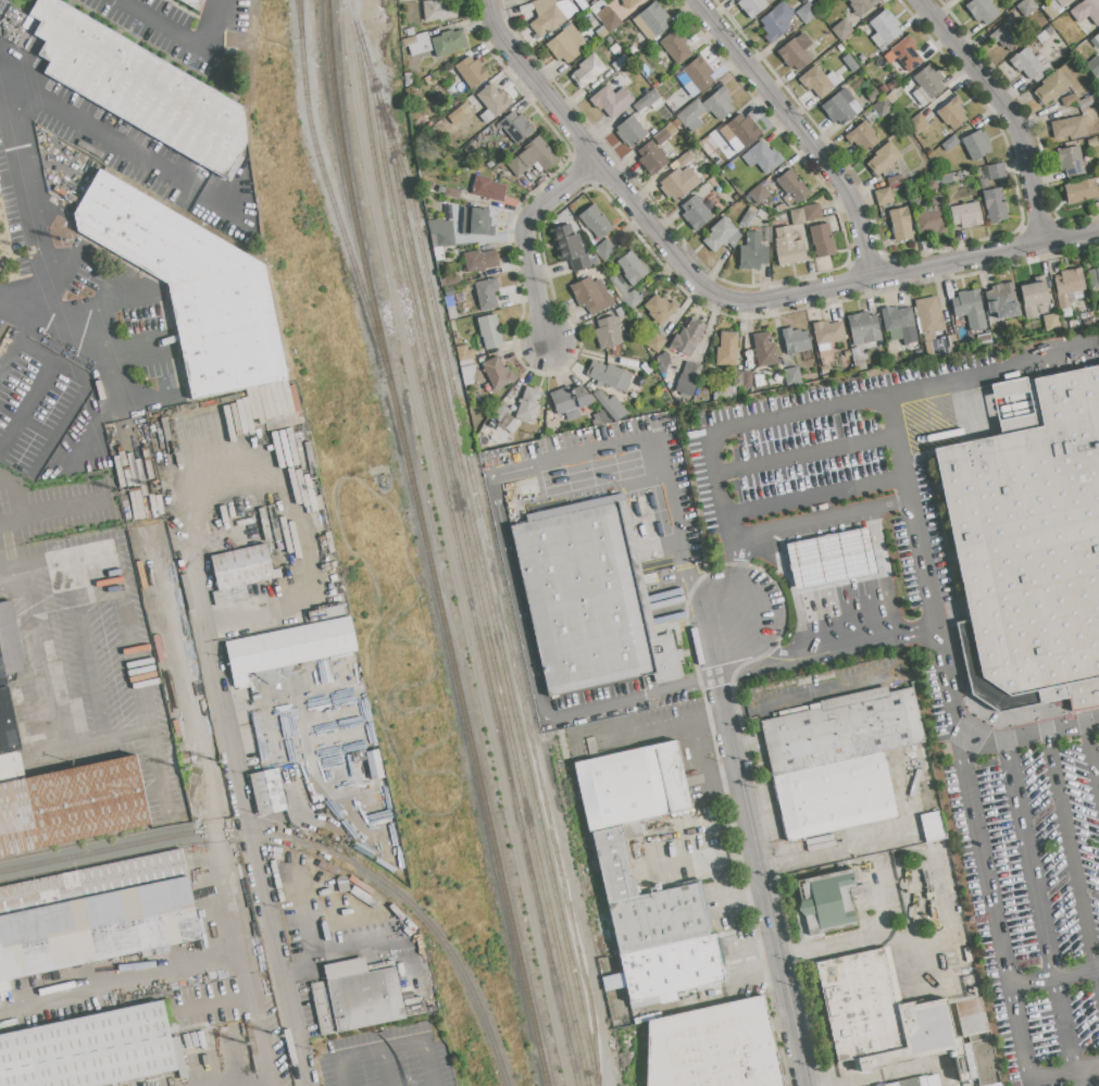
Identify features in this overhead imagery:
building: (546, 1)
building: (559, 1)
building: (1063, 1)
road: (484, 2)
building: (193, 3)
building: (628, 3)
building: (862, 5)
building: (751, 7)
building: (526, 8)
building: (1026, 8)
railway: (297, 9)
building: (439, 10)
building: (982, 11)
building: (1086, 11)
building: (807, 13)
building: (552, 17)
building: (653, 17)
building: (776, 21)
building: (610, 22)
road: (213, 25)
building: (885, 25)
road: (165, 28)
building: (842, 29)
building: (601, 34)
building: (1009, 35)
building: (421, 37)
building: (1097, 39)
building: (409, 41)
building: (448, 42)
building: (422, 45)
building: (564, 45)
building: (675, 47)
building: (795, 52)
building: (906, 52)
building: (620, 63)
building: (850, 63)
building: (1026, 63)
building: (1094, 65)
building: (471, 71)
building: (587, 71)
building: (698, 73)
building: (929, 80)
building: (814, 82)
building: (139, 87)
building: (1050, 87)
building: (890, 97)
building: (611, 100)
building: (1069, 100)
building: (494, 101)
building: (648, 101)
building: (719, 102)
building: (1084, 102)
building: (465, 108)
building: (883, 108)
building: (838, 109)
road: (1009, 110)
building: (952, 113)
building: (691, 114)
building: (916, 124)
road: (86, 125)
building: (515, 126)
building: (1069, 127)
building: (744, 129)
building: (629, 130)
road: (801, 132)
building: (662, 136)
building: (861, 136)
building: (949, 142)
building: (1091, 142)
building: (976, 145)
building: (709, 146)
building: (697, 151)
building: (534, 157)
building: (651, 158)
building: (762, 158)
building: (883, 158)
building: (685, 159)
building: (1070, 160)
building: (688, 167)
building: (996, 171)
building: (946, 178)
building: (895, 180)
railway: (325, 182)
road: (30, 184)
building: (932, 184)
building: (674, 186)
building: (791, 186)
building: (1098, 186)
building: (487, 188)
building: (1081, 190)
building: (452, 194)
building: (758, 194)
building: (884, 196)
building: (995, 204)
building: (1097, 207)
building: (812, 212)
building: (695, 213)
building: (965, 215)
building: (797, 216)
building: (933, 216)
building: (746, 219)
building: (476, 222)
building: (595, 222)
building: (899, 225)
building: (441, 233)
building: (721, 235)
road: (523, 237)
building: (821, 239)
power tower: (65, 241)
building: (573, 247)
building: (788, 247)
building: (603, 250)
power tower: (32, 252)
building: (752, 252)
building: (438, 253)
building: (479, 260)
building: (595, 260)
building: (630, 267)
building: (1092, 278)
building: (451, 279)
building: (191, 285)
building: (1067, 286)
building: (448, 292)
building: (487, 294)
building: (624, 294)
building: (591, 295)
building: (1033, 296)
road: (723, 299)
building: (1002, 300)
road: (109, 303)
building: (450, 308)
building: (660, 308)
building: (970, 309)
road: (38, 311)
building: (620, 312)
building: (929, 315)
building: (1050, 322)
building: (899, 323)
building: (863, 328)
building: (489, 330)
building: (607, 333)
building: (827, 334)
building: (687, 337)
road: (77, 340)
building: (795, 340)
road: (136, 341)
building: (655, 342)
building: (948, 344)
building: (727, 348)
building: (764, 349)
building: (463, 353)
road: (1050, 359)
building: (858, 360)
road: (50, 364)
building: (687, 369)
building: (466, 371)
building: (696, 371)
building: (497, 372)
building: (609, 376)
building: (791, 376)
building: (738, 378)
building: (747, 379)
building: (686, 385)
building: (1008, 390)
building: (287, 397)
building: (282, 399)
building: (294, 399)
road: (150, 400)
building: (276, 400)
building: (270, 401)
building: (570, 401)
road: (854, 401)
building: (257, 402)
building: (263, 402)
building: (251, 403)
building: (528, 404)
building: (610, 404)
road: (25, 408)
building: (246, 409)
building: (601, 417)
building: (235, 421)
building: (286, 421)
building: (227, 422)
building: (492, 422)
building: (221, 423)
building: (207, 425)
building: (511, 426)
road: (58, 428)
building: (497, 428)
road: (49, 429)
building: (172, 430)
building: (178, 430)
building: (185, 430)
building: (192, 430)
building: (159, 436)
road: (899, 447)
road: (807, 453)
road: (659, 458)
power tower: (157, 487)
power tower: (125, 491)
road: (815, 496)
road: (13, 497)
road: (885, 504)
road: (52, 512)
building: (289, 520)
road: (811, 521)
building: (283, 522)
building: (275, 523)
building: (264, 524)
road: (728, 525)
road: (746, 534)
railway: (466, 542)
railway: (457, 544)
railway: (426, 545)
building: (1029, 551)
building: (828, 558)
road: (57, 561)
road: (923, 563)
building: (241, 567)
railway: (483, 572)
road: (883, 572)
building: (276, 573)
road: (511, 574)
building: (229, 596)
building: (588, 597)
railway: (500, 601)
road: (715, 608)
building: (326, 614)
parking lot: (958, 620)
road: (753, 638)
road: (881, 638)
road: (26, 640)
building: (287, 649)
road: (95, 650)
road: (804, 656)
road: (774, 659)
road: (143, 679)
road: (663, 690)
building: (5, 711)
road: (724, 712)
building: (842, 728)
road: (228, 734)
road: (1029, 736)
road: (103, 745)
road: (1092, 754)
building: (359, 756)
power tower: (221, 762)
building: (374, 763)
building: (11, 765)
power tower: (187, 769)
building: (632, 785)
building: (267, 791)
building: (834, 795)
building: (71, 804)
building: (933, 826)
railway: (314, 846)
road: (839, 851)
road: (759, 852)
road: (1073, 862)
building: (612, 863)
road: (717, 872)
building: (91, 881)
road: (904, 881)
road: (989, 887)
building: (827, 901)
road: (798, 904)
road: (1038, 906)
building: (659, 919)
building: (97, 927)
road: (915, 929)
road: (373, 945)
road: (752, 946)
road: (241, 960)
building: (672, 966)
road: (839, 968)
road: (924, 972)
road: (118, 976)
road: (1054, 977)
road: (713, 993)
building: (357, 997)
building: (882, 1015)
road: (934, 1019)
road: (260, 1028)
road: (294, 1029)
power tower: (282, 1036)
road: (828, 1043)
power tower: (246, 1045)
road: (388, 1045)
building: (714, 1047)
building: (93, 1049)
building: (984, 1059)
road: (383, 1066)
road: (874, 1077)
road: (1079, 1077)
building: (916, 1082)
road: (264, 1084)

